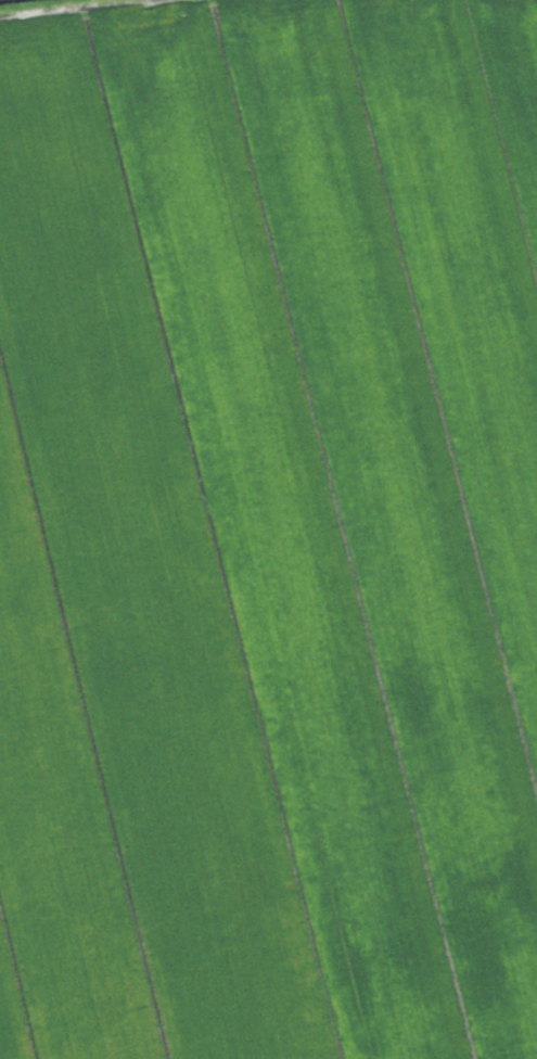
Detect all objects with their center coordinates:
road: (9, 0)

